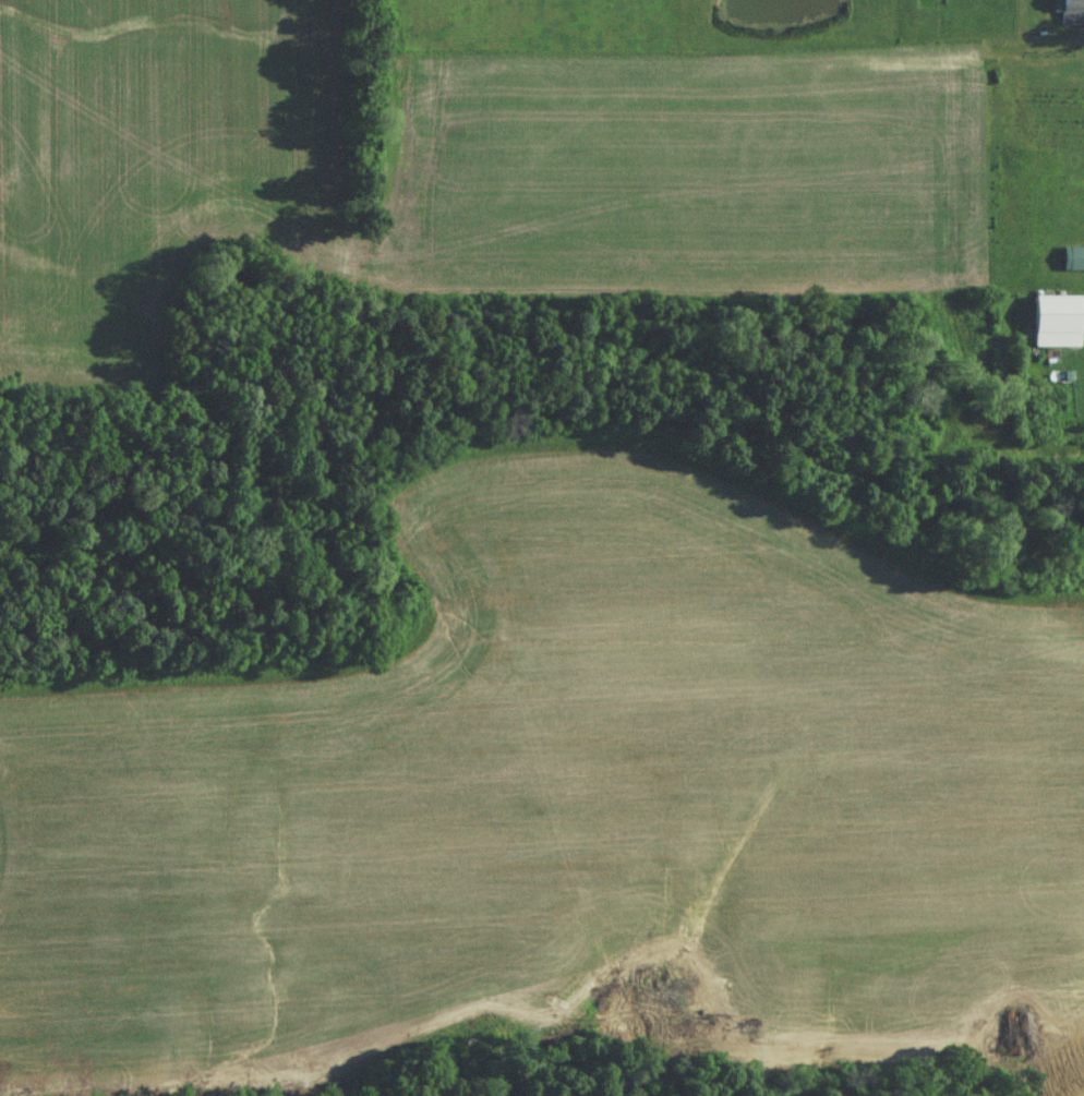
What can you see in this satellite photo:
building: (1069, 14)
building: (1050, 326)

